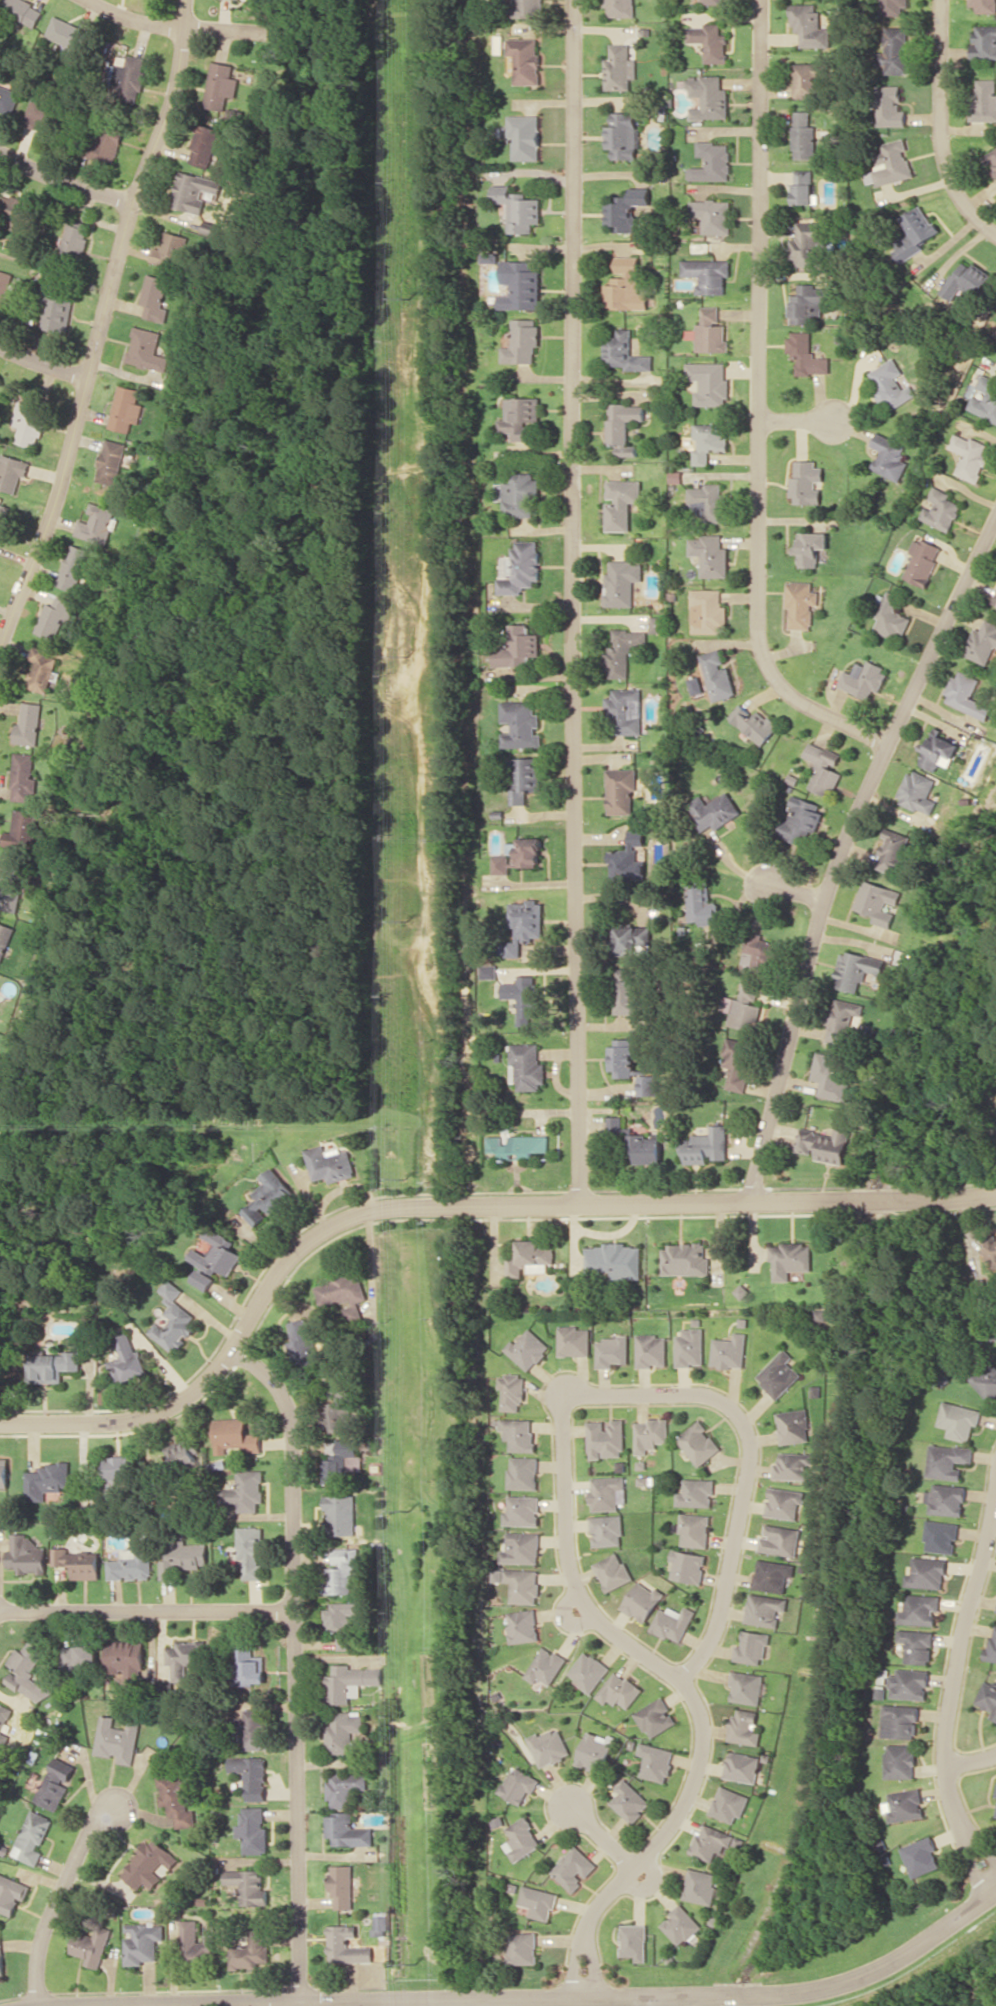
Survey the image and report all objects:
building: (714, 1)
building: (892, 6)
building: (528, 7)
building: (621, 8)
building: (22, 11)
road: (175, 25)
building: (808, 25)
building: (67, 32)
building: (710, 41)
building: (984, 41)
building: (896, 50)
building: (524, 59)
building: (619, 67)
building: (132, 77)
building: (807, 78)
building: (222, 85)
building: (708, 97)
building: (7, 98)
building: (985, 99)
building: (890, 106)
building: (40, 113)
road: (945, 121)
building: (524, 135)
building: (621, 135)
building: (803, 135)
building: (106, 141)
building: (206, 145)
building: (992, 158)
building: (711, 161)
building: (891, 164)
road: (64, 181)
building: (804, 187)
building: (194, 191)
building: (518, 208)
building: (624, 209)
building: (15, 211)
building: (711, 214)
building: (916, 233)
building: (77, 237)
building: (810, 244)
building: (170, 250)
building: (627, 265)
building: (707, 274)
building: (967, 280)
building: (520, 285)
building: (624, 293)
building: (155, 297)
power tower: (409, 297)
building: (39, 301)
building: (809, 303)
road: (101, 327)
building: (522, 341)
building: (147, 349)
building: (624, 352)
building: (808, 354)
road: (44, 361)
building: (176, 368)
building: (709, 382)
building: (891, 384)
building: (985, 399)
road: (763, 405)
building: (127, 408)
building: (521, 418)
road: (802, 421)
building: (29, 422)
building: (623, 426)
building: (710, 441)
building: (891, 456)
building: (970, 456)
building: (112, 462)
building: (12, 471)
building: (807, 482)
building: (519, 494)
building: (621, 502)
building: (710, 502)
building: (941, 509)
building: (4, 517)
building: (98, 524)
building: (811, 547)
building: (711, 554)
building: (923, 561)
building: (74, 566)
building: (521, 568)
building: (621, 582)
road: (577, 600)
building: (995, 600)
building: (802, 604)
building: (709, 611)
building: (55, 617)
building: (891, 617)
building: (657, 623)
building: (983, 643)
building: (517, 647)
building: (623, 651)
power tower: (405, 654)
building: (42, 669)
building: (718, 675)
building: (863, 679)
building: (967, 695)
building: (625, 711)
building: (754, 723)
building: (30, 724)
building: (520, 724)
building: (939, 750)
building: (823, 767)
building: (24, 776)
building: (525, 777)
building: (620, 791)
building: (919, 791)
building: (715, 811)
building: (802, 819)
building: (22, 829)
building: (525, 851)
road: (845, 852)
building: (895, 852)
building: (630, 858)
building: (499, 864)
building: (11, 887)
road: (797, 890)
building: (878, 901)
building: (701, 904)
power tower: (405, 921)
building: (524, 924)
building: (5, 938)
building: (631, 938)
building: (758, 953)
building: (855, 969)
building: (488, 970)
building: (628, 991)
building: (523, 996)
building: (744, 1008)
building: (844, 1021)
building: (622, 1057)
building: (736, 1063)
building: (526, 1066)
building: (830, 1076)
building: (648, 1085)
building: (614, 1122)
building: (825, 1144)
building: (518, 1146)
building: (707, 1146)
building: (330, 1163)
power tower: (407, 1177)
building: (268, 1197)
road: (452, 1206)
building: (529, 1258)
building: (790, 1258)
building: (685, 1259)
building: (214, 1260)
building: (614, 1260)
building: (978, 1287)
building: (341, 1290)
building: (173, 1320)
building: (305, 1339)
building: (573, 1340)
building: (689, 1347)
building: (526, 1349)
building: (610, 1350)
building: (650, 1350)
building: (729, 1351)
road: (401, 1354)
building: (126, 1361)
building: (51, 1365)
building: (779, 1374)
building: (987, 1381)
building: (511, 1391)
road: (589, 1393)
building: (339, 1412)
building: (959, 1419)
building: (793, 1426)
building: (518, 1433)
building: (649, 1434)
building: (235, 1435)
building: (604, 1438)
building: (698, 1443)
building: (182, 1453)
building: (948, 1460)
building: (339, 1466)
building: (793, 1466)
river: (869, 1466)
building: (4, 1472)
building: (522, 1472)
building: (114, 1477)
building: (47, 1479)
building: (245, 1491)
building: (605, 1492)
building: (696, 1493)
building: (946, 1499)
building: (784, 1503)
building: (521, 1510)
power tower: (409, 1511)
building: (341, 1513)
building: (606, 1530)
building: (694, 1530)
building: (941, 1536)
building: (780, 1539)
building: (521, 1548)
building: (250, 1551)
building: (182, 1557)
building: (75, 1563)
building: (130, 1563)
building: (687, 1566)
building: (342, 1570)
building: (612, 1571)
building: (927, 1573)
building: (772, 1575)
building: (522, 1585)
building: (642, 1601)
road: (145, 1607)
building: (764, 1609)
building: (919, 1609)
building: (340, 1615)
building: (673, 1622)
building: (522, 1626)
building: (345, 1642)
building: (917, 1645)
building: (992, 1645)
building: (751, 1647)
building: (80, 1655)
road: (960, 1657)
building: (181, 1658)
building: (125, 1660)
building: (248, 1664)
road: (294, 1664)
building: (545, 1666)
building: (588, 1671)
building: (27, 1672)
building: (349, 1682)
building: (909, 1684)
building: (746, 1687)
building: (619, 1690)
building: (988, 1697)
building: (655, 1717)
building: (900, 1721)
building: (3, 1724)
building: (745, 1727)
building: (252, 1728)
building: (344, 1732)
building: (117, 1739)
building: (549, 1746)
building: (595, 1751)
building: (900, 1761)
building: (656, 1762)
building: (742, 1767)
building: (251, 1775)
building: (519, 1784)
building: (344, 1786)
building: (53, 1787)
building: (995, 1794)
building: (176, 1797)
building: (630, 1800)
building: (729, 1804)
building: (906, 1805)
road: (964, 1822)
building: (253, 1830)
building: (346, 1830)
road: (601, 1835)
building: (31, 1837)
building: (522, 1838)
road: (655, 1841)
building: (710, 1841)
building: (921, 1856)
building: (148, 1864)
building: (574, 1868)
building: (248, 1886)
building: (342, 1886)
building: (701, 1886)
building: (11, 1893)
road: (58, 1901)
building: (538, 1901)
building: (682, 1924)
building: (380, 1925)
building: (634, 1941)
building: (142, 1942)
building: (346, 1945)
building: (91, 1946)
building: (194, 1946)
building: (522, 1947)
building: (250, 1950)
building: (1, 1959)
power tower: (415, 1965)
road: (890, 1970)
road: (735, 1996)
road: (439, 2001)

